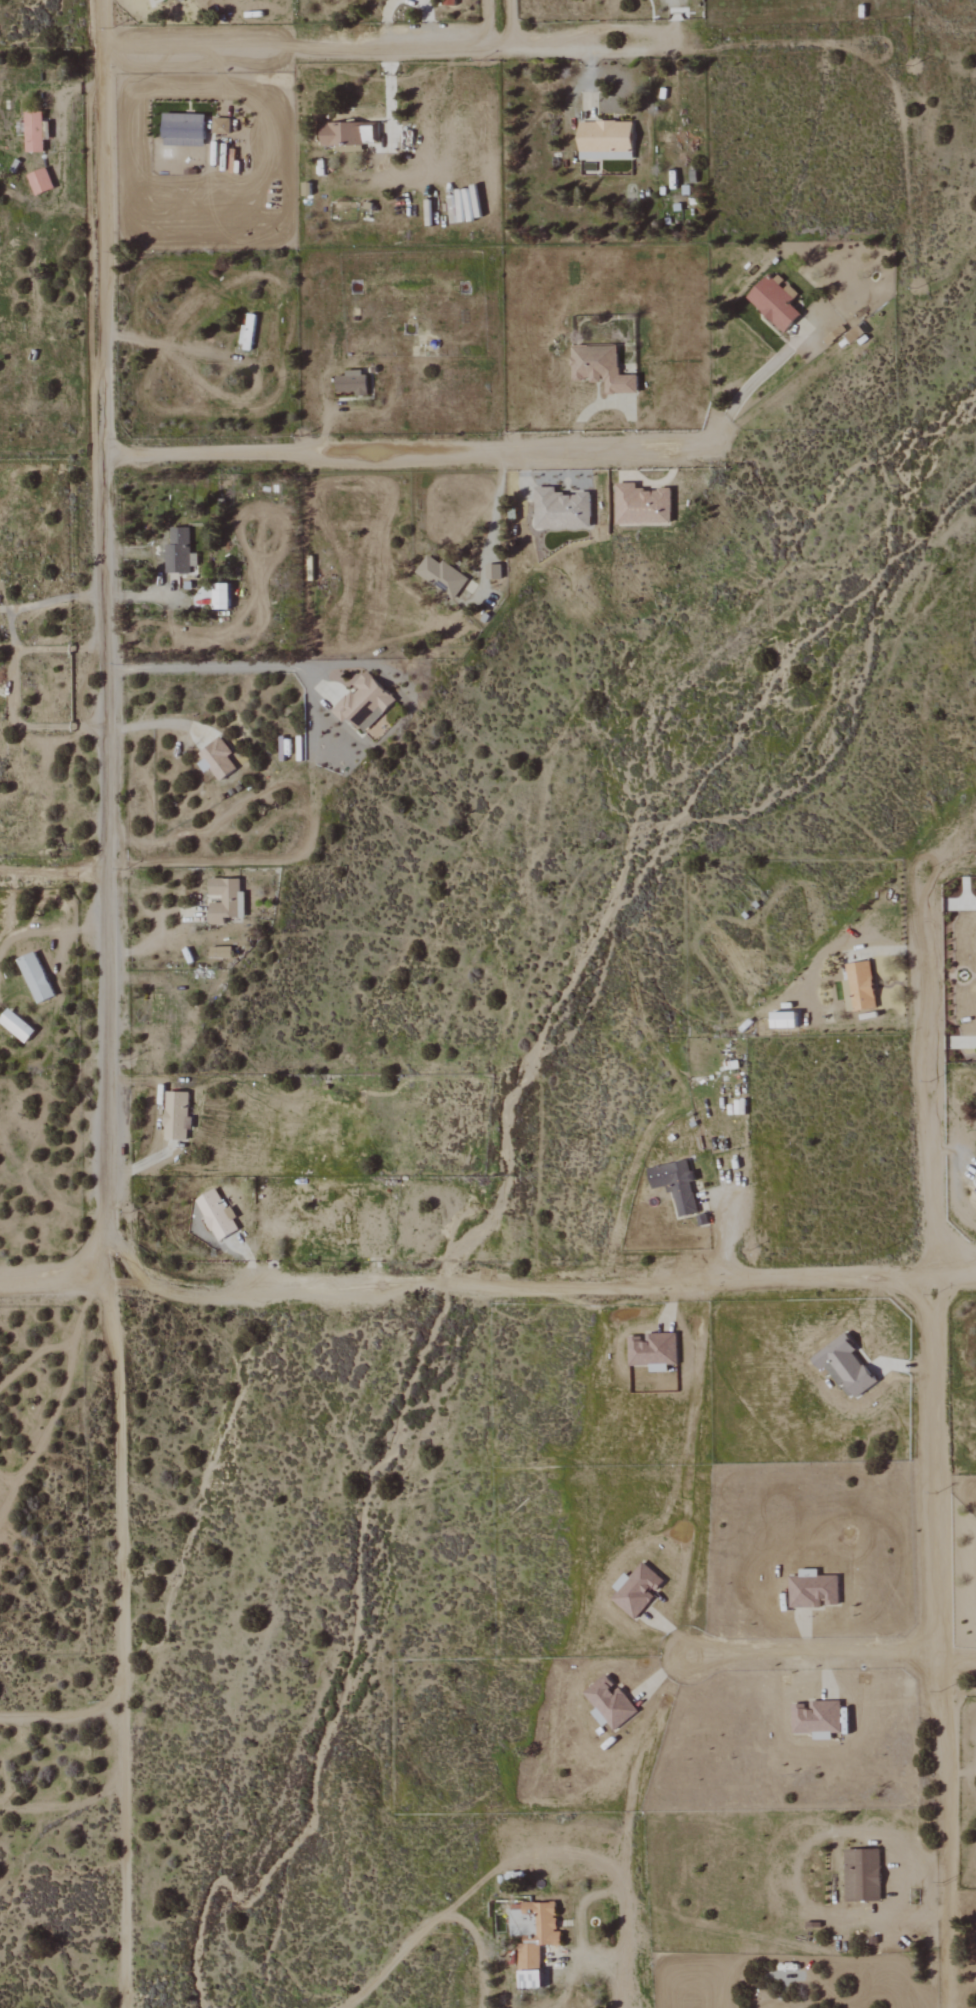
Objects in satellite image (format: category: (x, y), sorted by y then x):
building: (176, 0)
building: (448, 2)
road: (426, 21)
road: (385, 23)
road: (675, 23)
road: (487, 24)
road: (291, 48)
road: (579, 48)
road: (589, 82)
road: (387, 96)
building: (183, 130)
building: (33, 131)
building: (342, 136)
building: (604, 139)
building: (40, 181)
building: (775, 301)
building: (248, 333)
building: (601, 368)
building: (351, 382)
road: (746, 390)
road: (606, 403)
road: (401, 451)
road: (497, 498)
building: (642, 505)
building: (562, 509)
building: (494, 571)
building: (442, 576)
building: (221, 596)
road: (106, 645)
road: (13, 687)
building: (364, 703)
road: (313, 763)
road: (51, 872)
building: (226, 901)
road: (48, 931)
road: (150, 942)
road: (887, 950)
building: (35, 977)
building: (859, 986)
building: (784, 1019)
building: (16, 1025)
road: (948, 1042)
road: (921, 1082)
road: (148, 1091)
building: (175, 1115)
road: (953, 1150)
road: (140, 1165)
building: (676, 1185)
building: (216, 1214)
road: (731, 1221)
road: (488, 1286)
road: (78, 1316)
building: (653, 1351)
road: (32, 1357)
building: (844, 1366)
road: (51, 1421)
building: (636, 1590)
building: (813, 1590)
road: (679, 1601)
road: (941, 1643)
road: (116, 1649)
road: (959, 1675)
building: (610, 1703)
road: (60, 1716)
building: (817, 1719)
building: (862, 1875)
road: (796, 1892)
road: (433, 1920)
building: (532, 1938)
road: (561, 2000)

